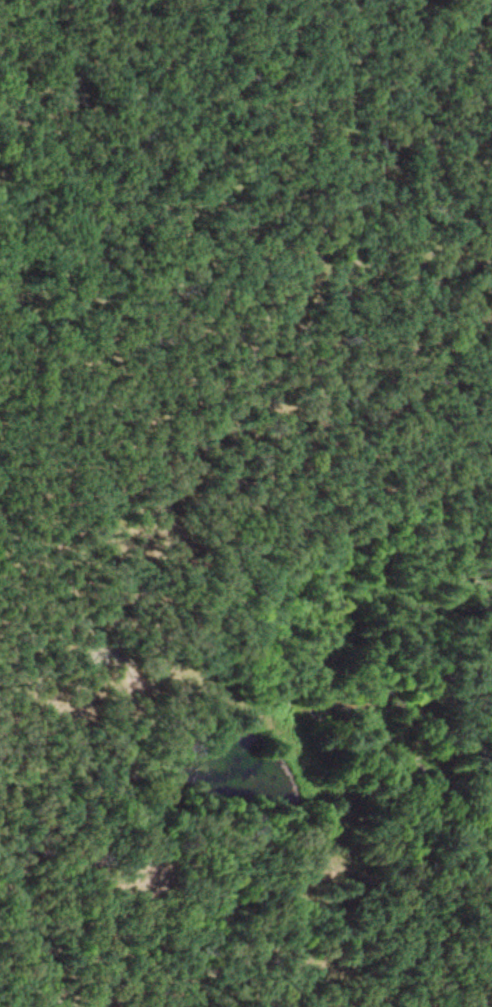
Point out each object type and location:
road: (13, 875)

